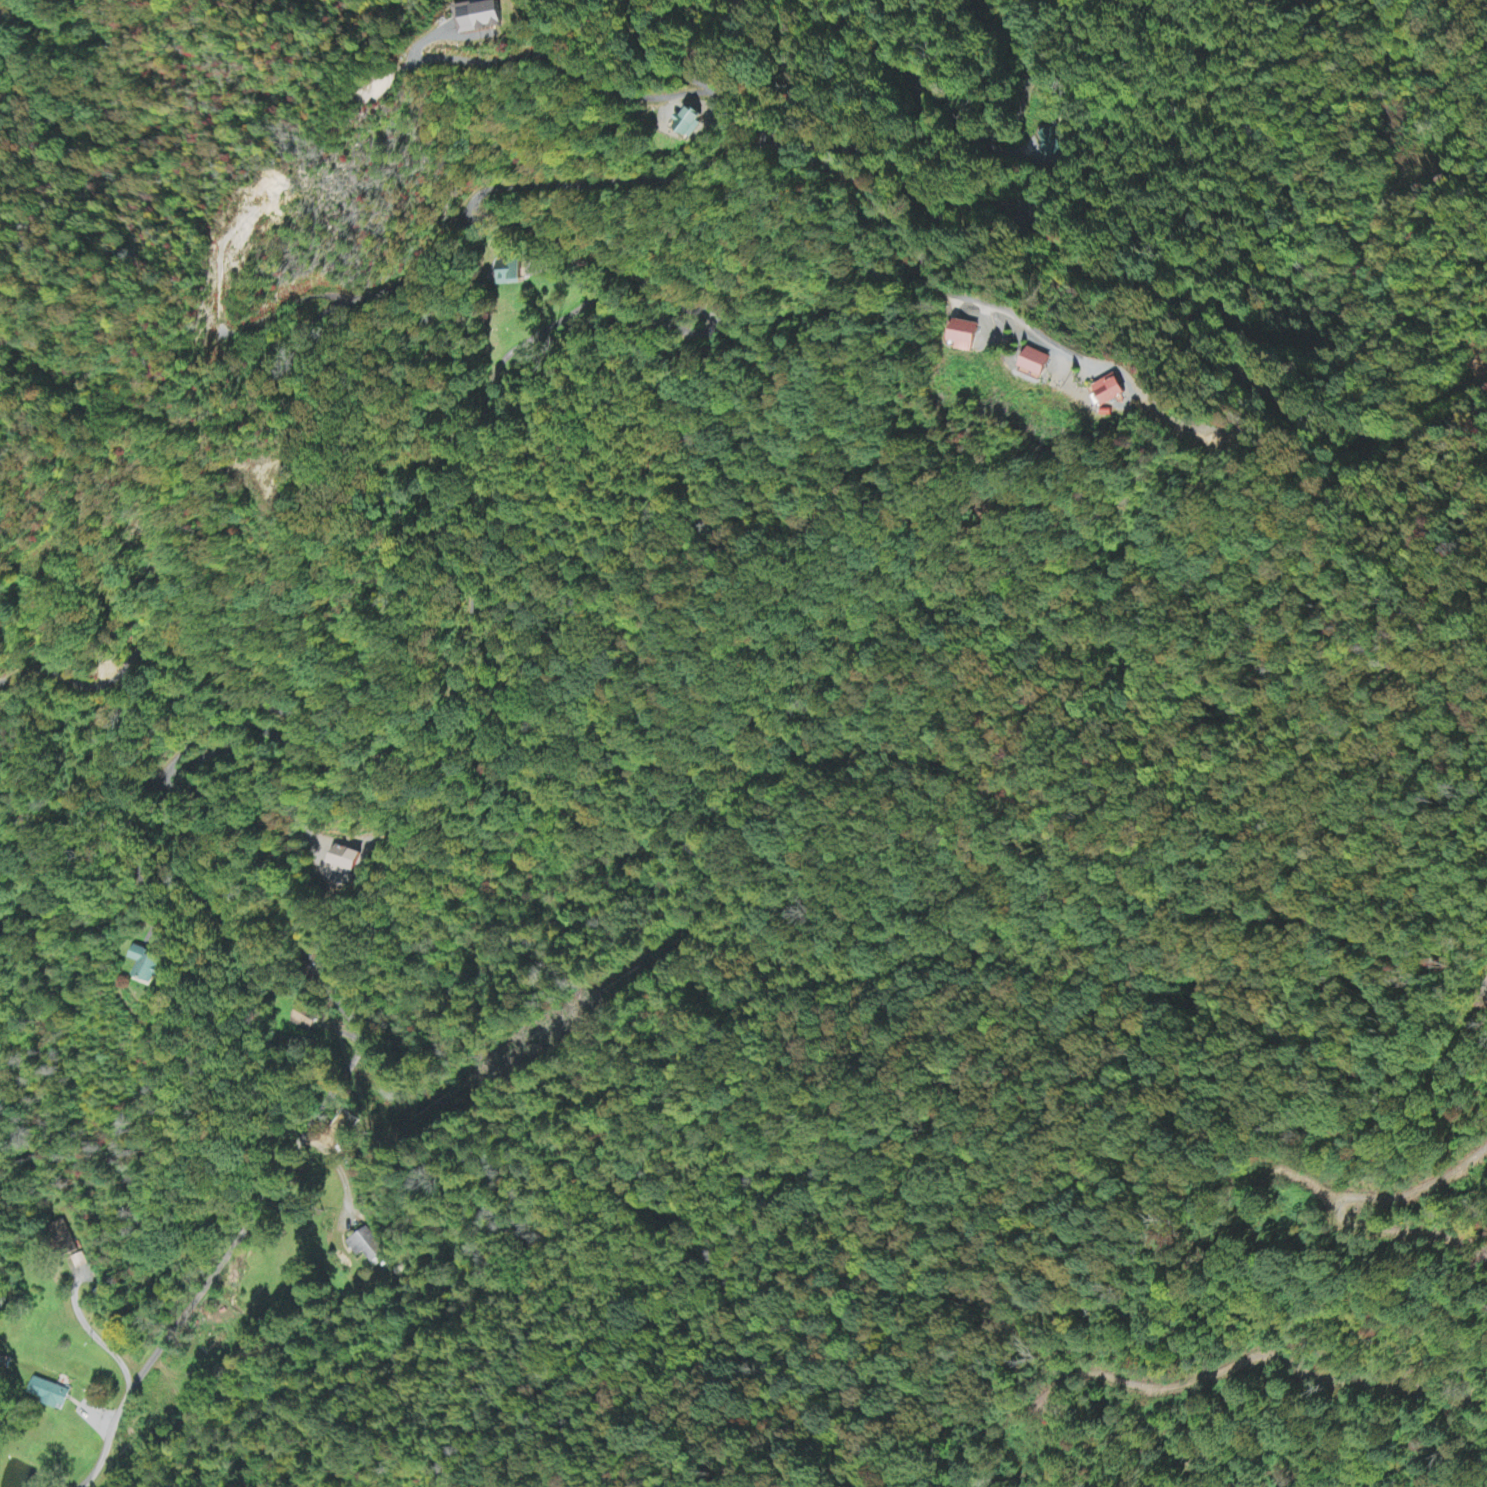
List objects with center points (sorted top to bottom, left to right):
building: (1, 21)
road: (567, 66)
building: (693, 124)
road: (1010, 128)
building: (1054, 146)
road: (1022, 207)
building: (508, 273)
road: (397, 283)
road: (977, 300)
road: (1187, 306)
road: (657, 321)
building: (969, 336)
building: (1043, 364)
building: (1116, 392)
road: (163, 641)
road: (626, 676)
building: (346, 862)
road: (284, 882)
road: (134, 907)
building: (147, 965)
building: (305, 1019)
building: (63, 1237)
building: (367, 1246)
road: (215, 1264)
road: (1322, 1376)
building: (49, 1395)

